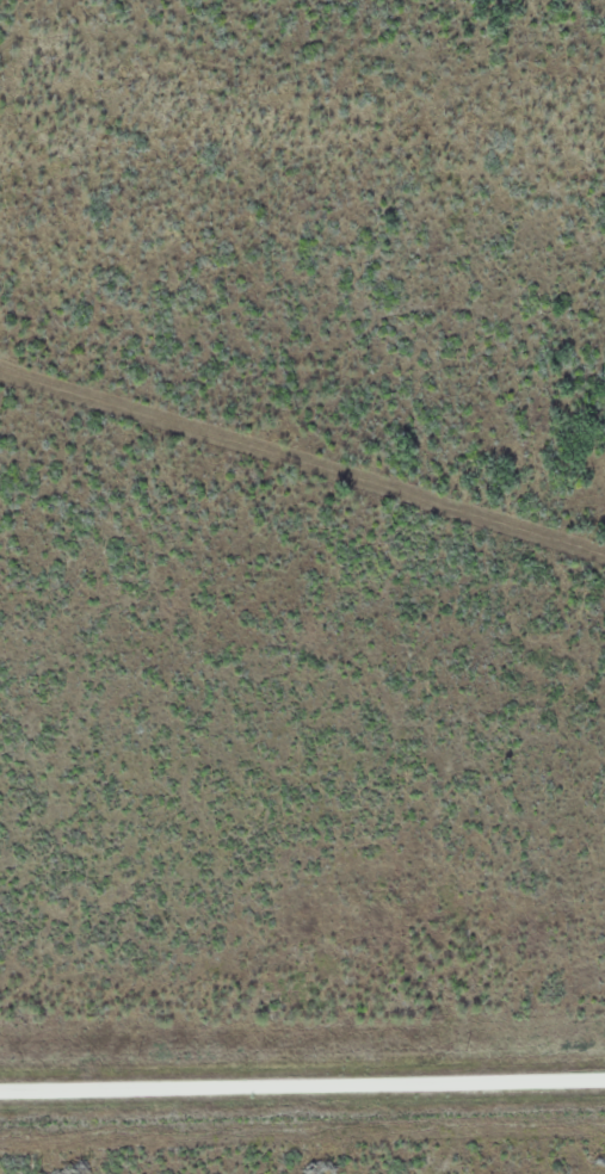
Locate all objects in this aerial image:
road: (302, 1095)

